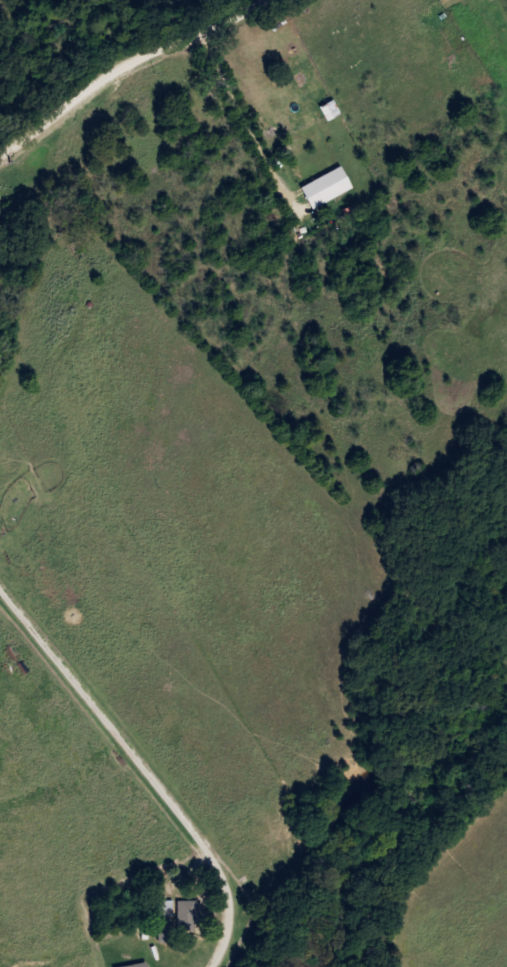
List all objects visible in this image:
road: (122, 64)
road: (243, 132)
building: (324, 187)
road: (144, 770)
building: (165, 909)
building: (188, 917)
building: (164, 935)
building: (139, 965)

